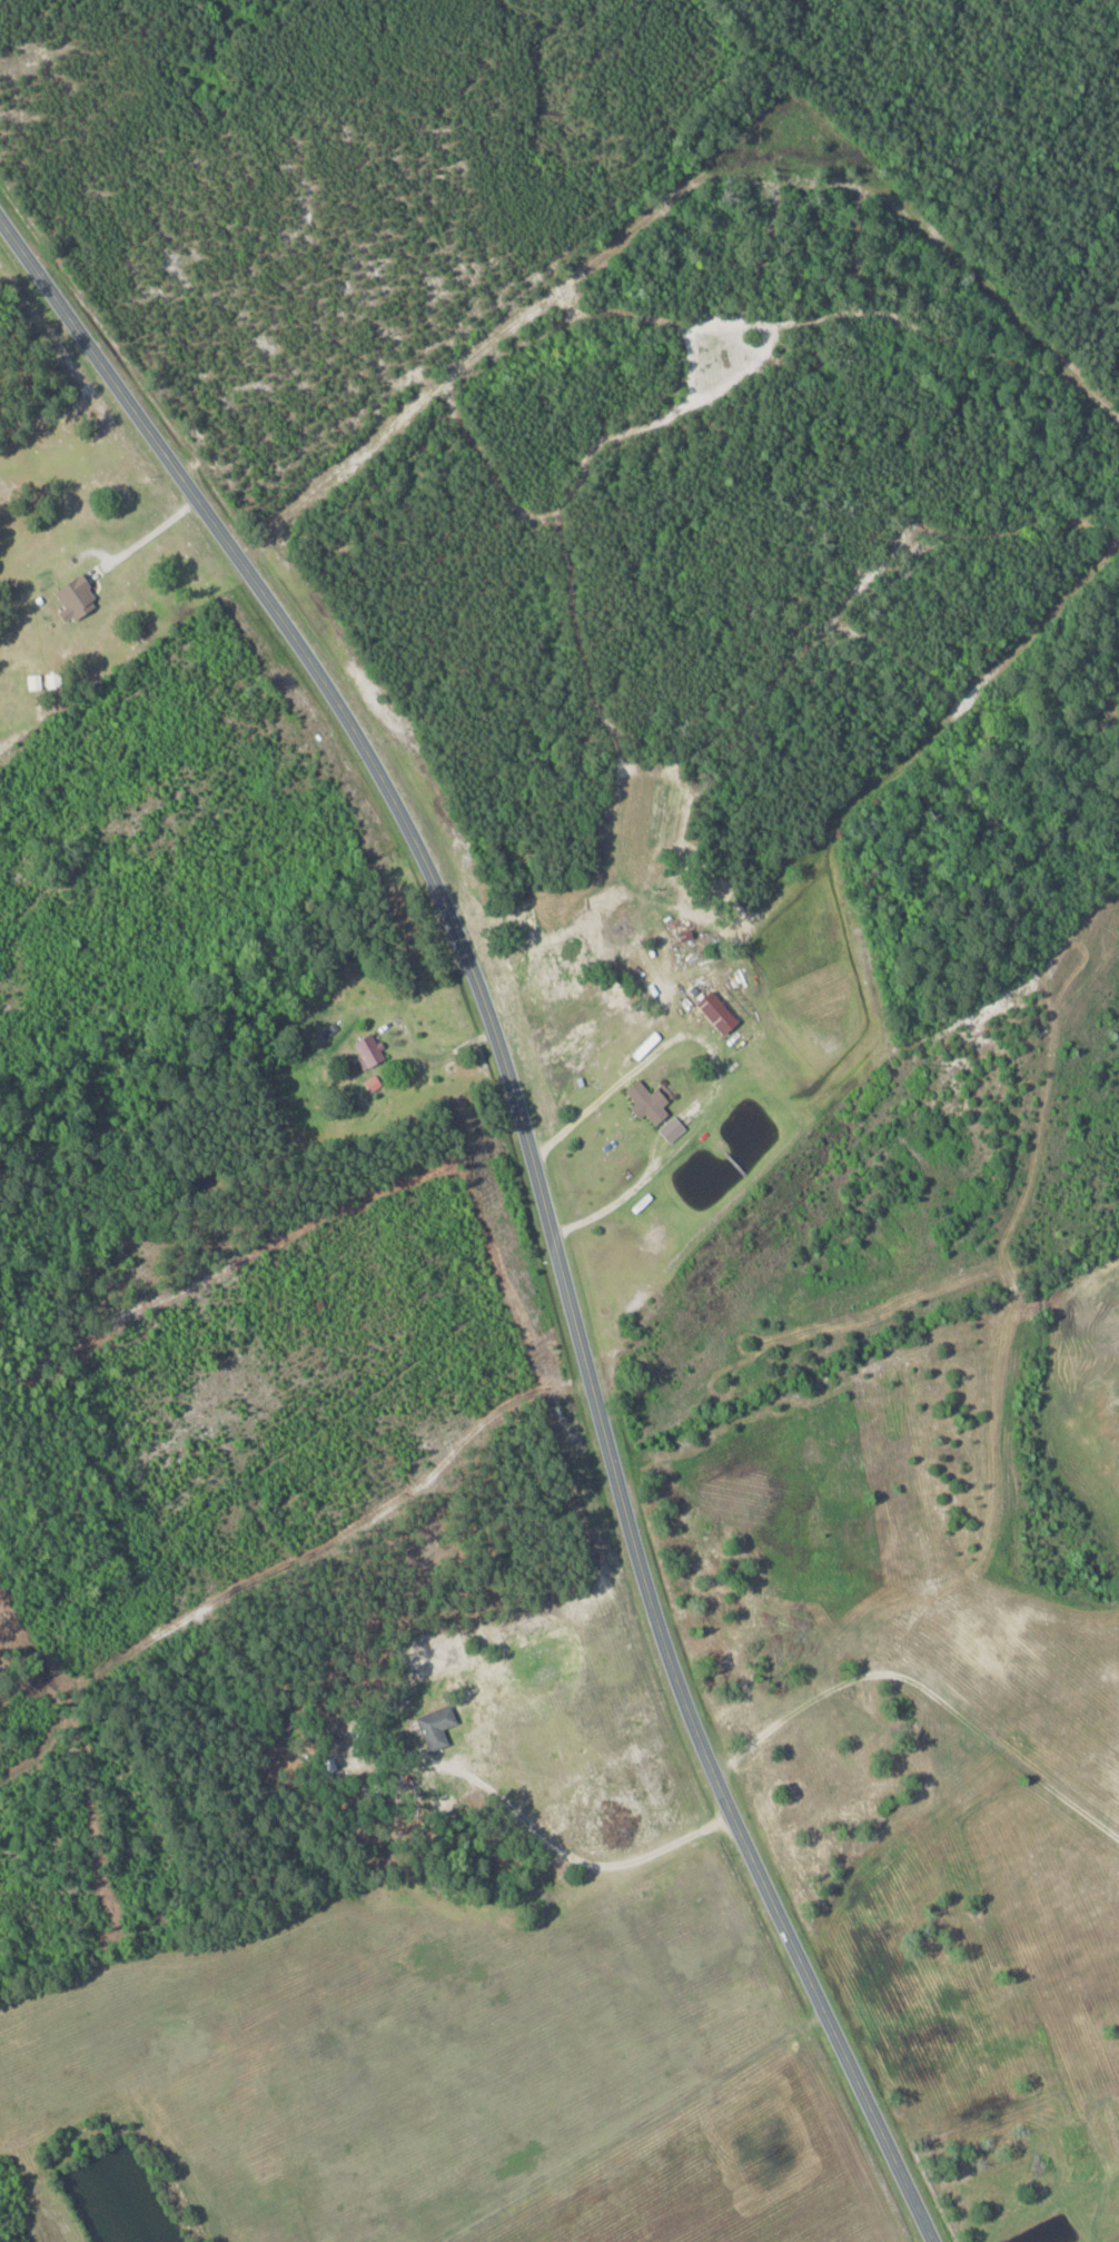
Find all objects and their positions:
building: (76, 597)
building: (716, 1013)
building: (368, 1050)
building: (648, 1102)
road: (542, 1192)
road: (504, 1600)
building: (869, 1711)
building: (436, 1726)

